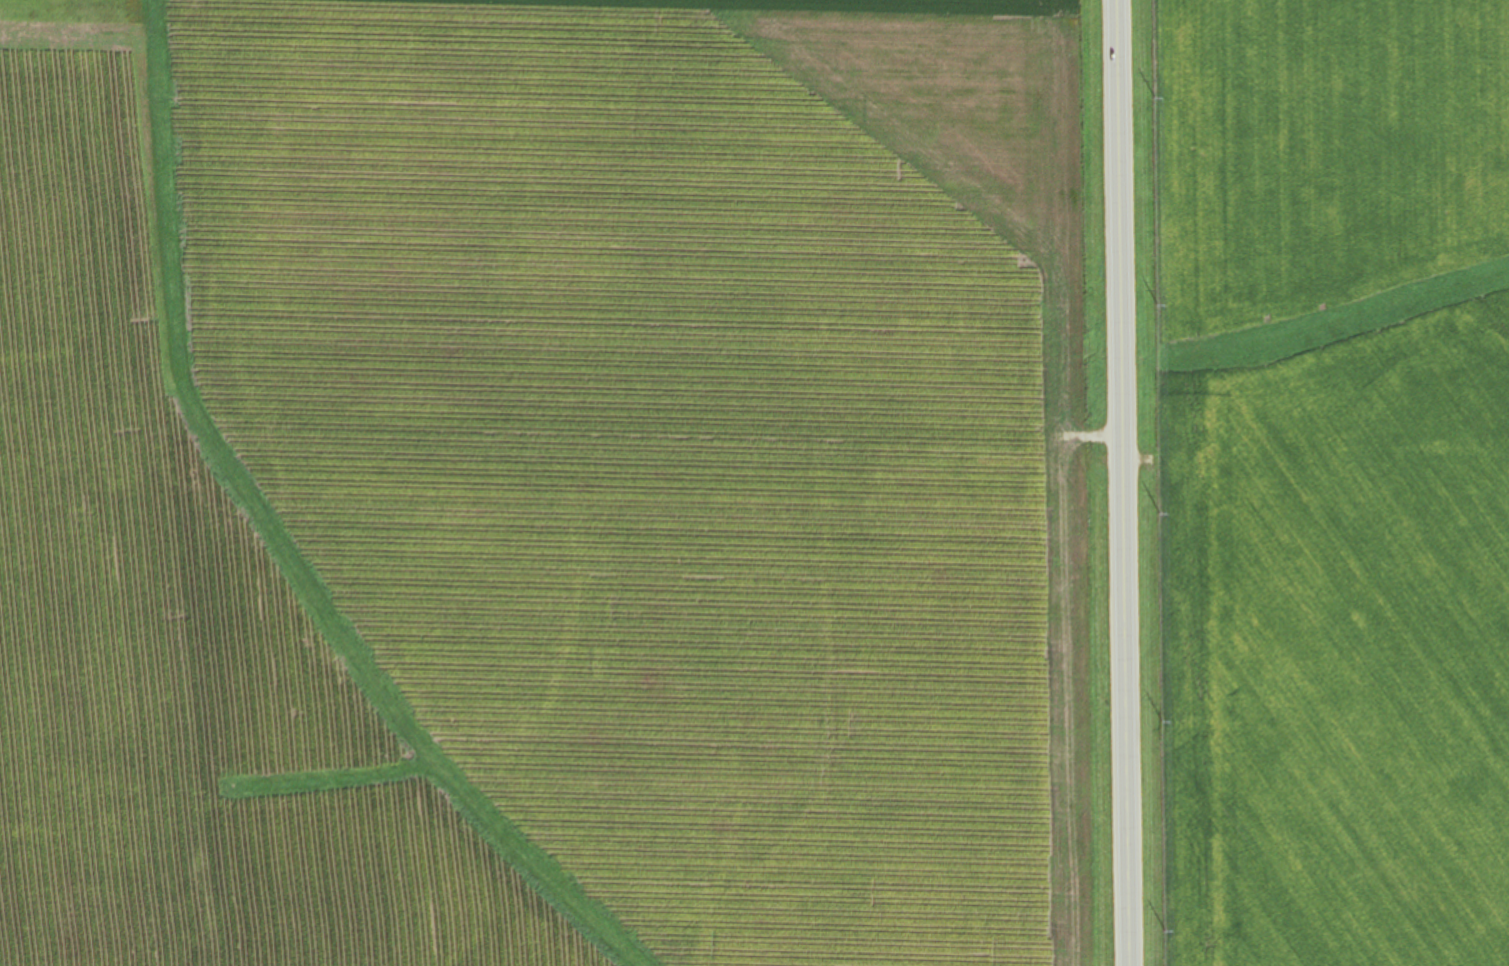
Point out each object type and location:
road: (1122, 483)

